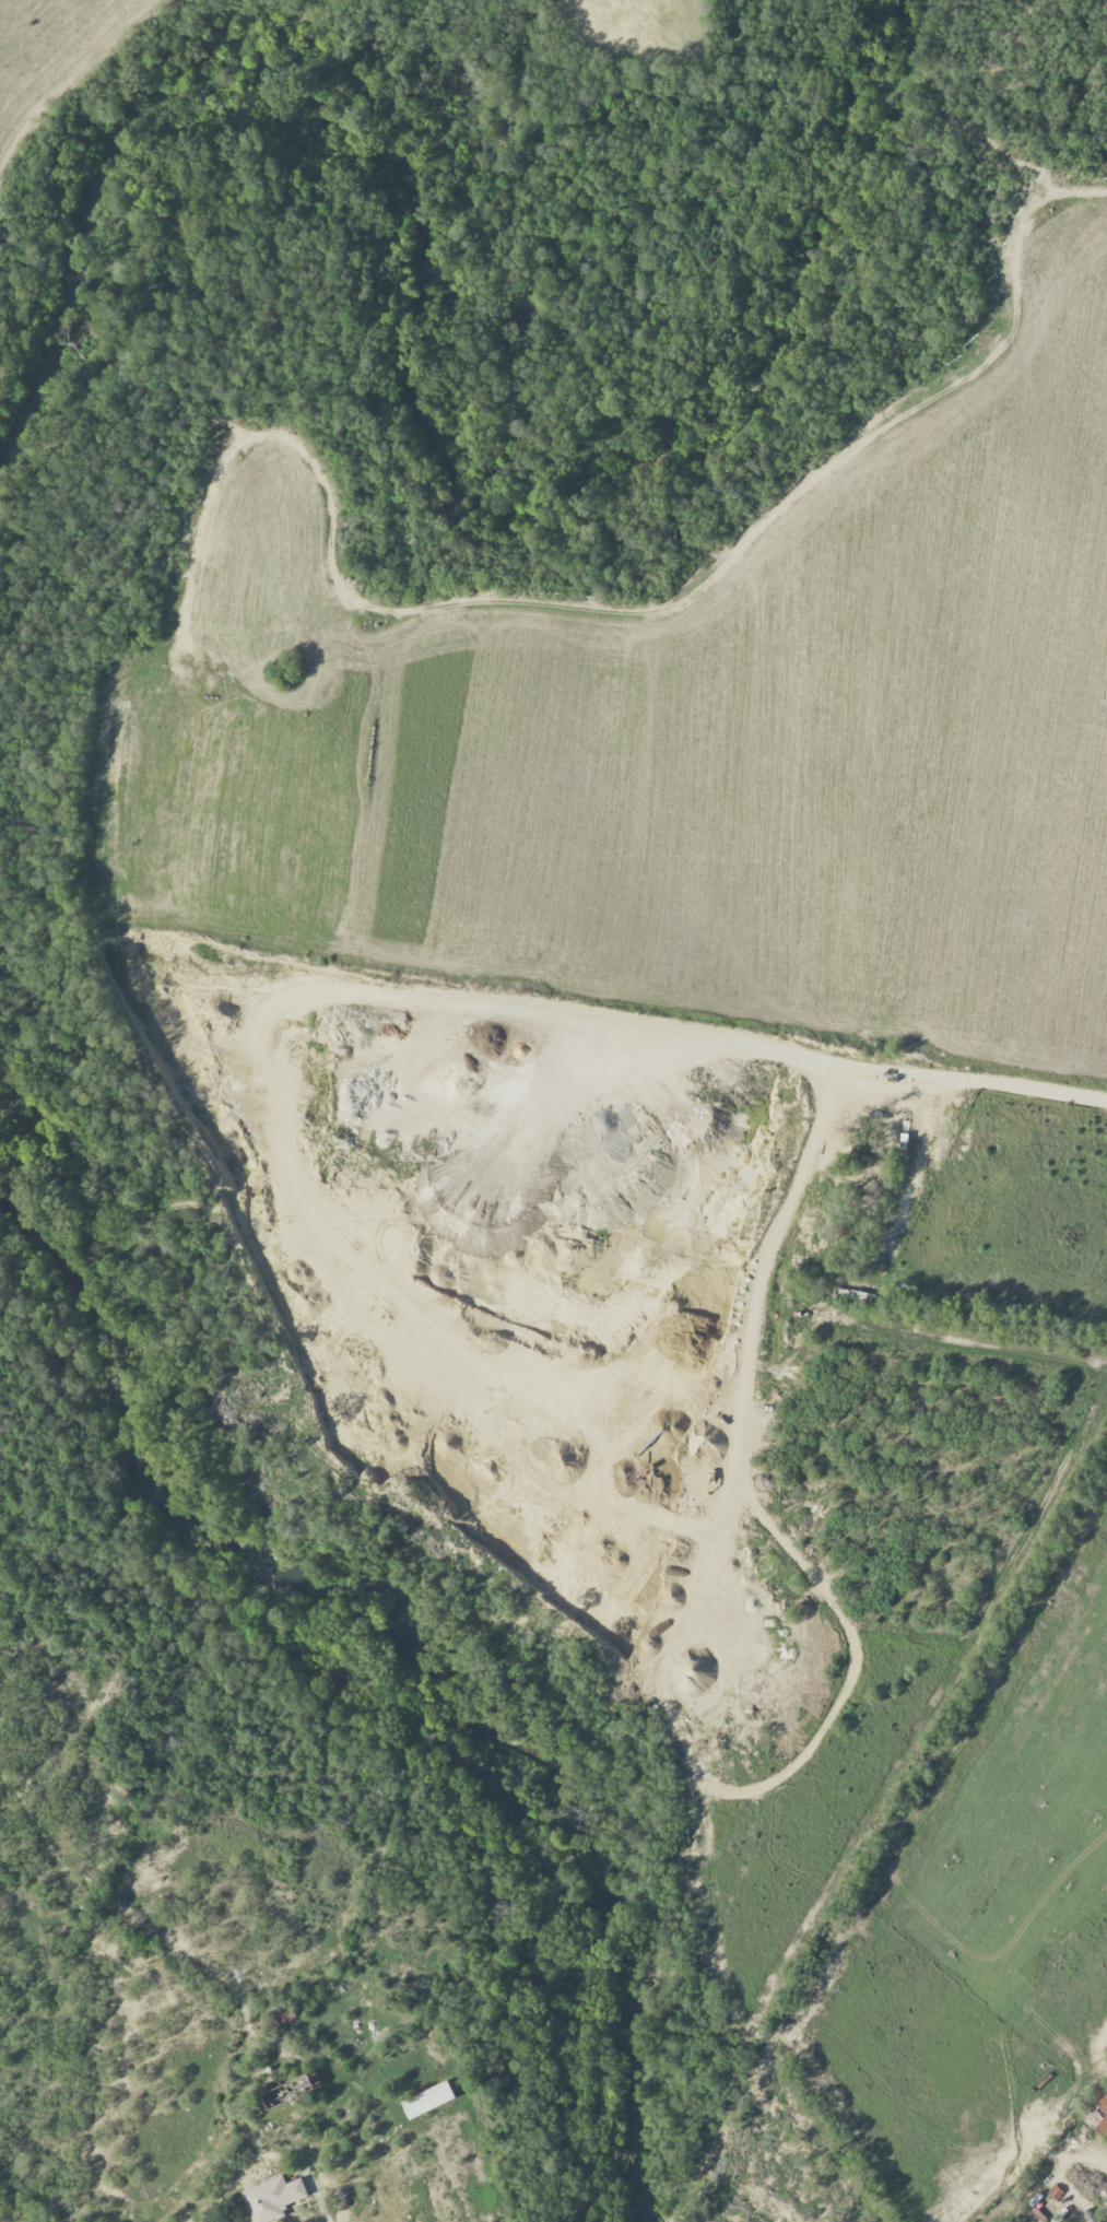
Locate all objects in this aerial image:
building: (1099, 2115)
building: (275, 2198)
road: (323, 2210)
building: (1105, 2210)

